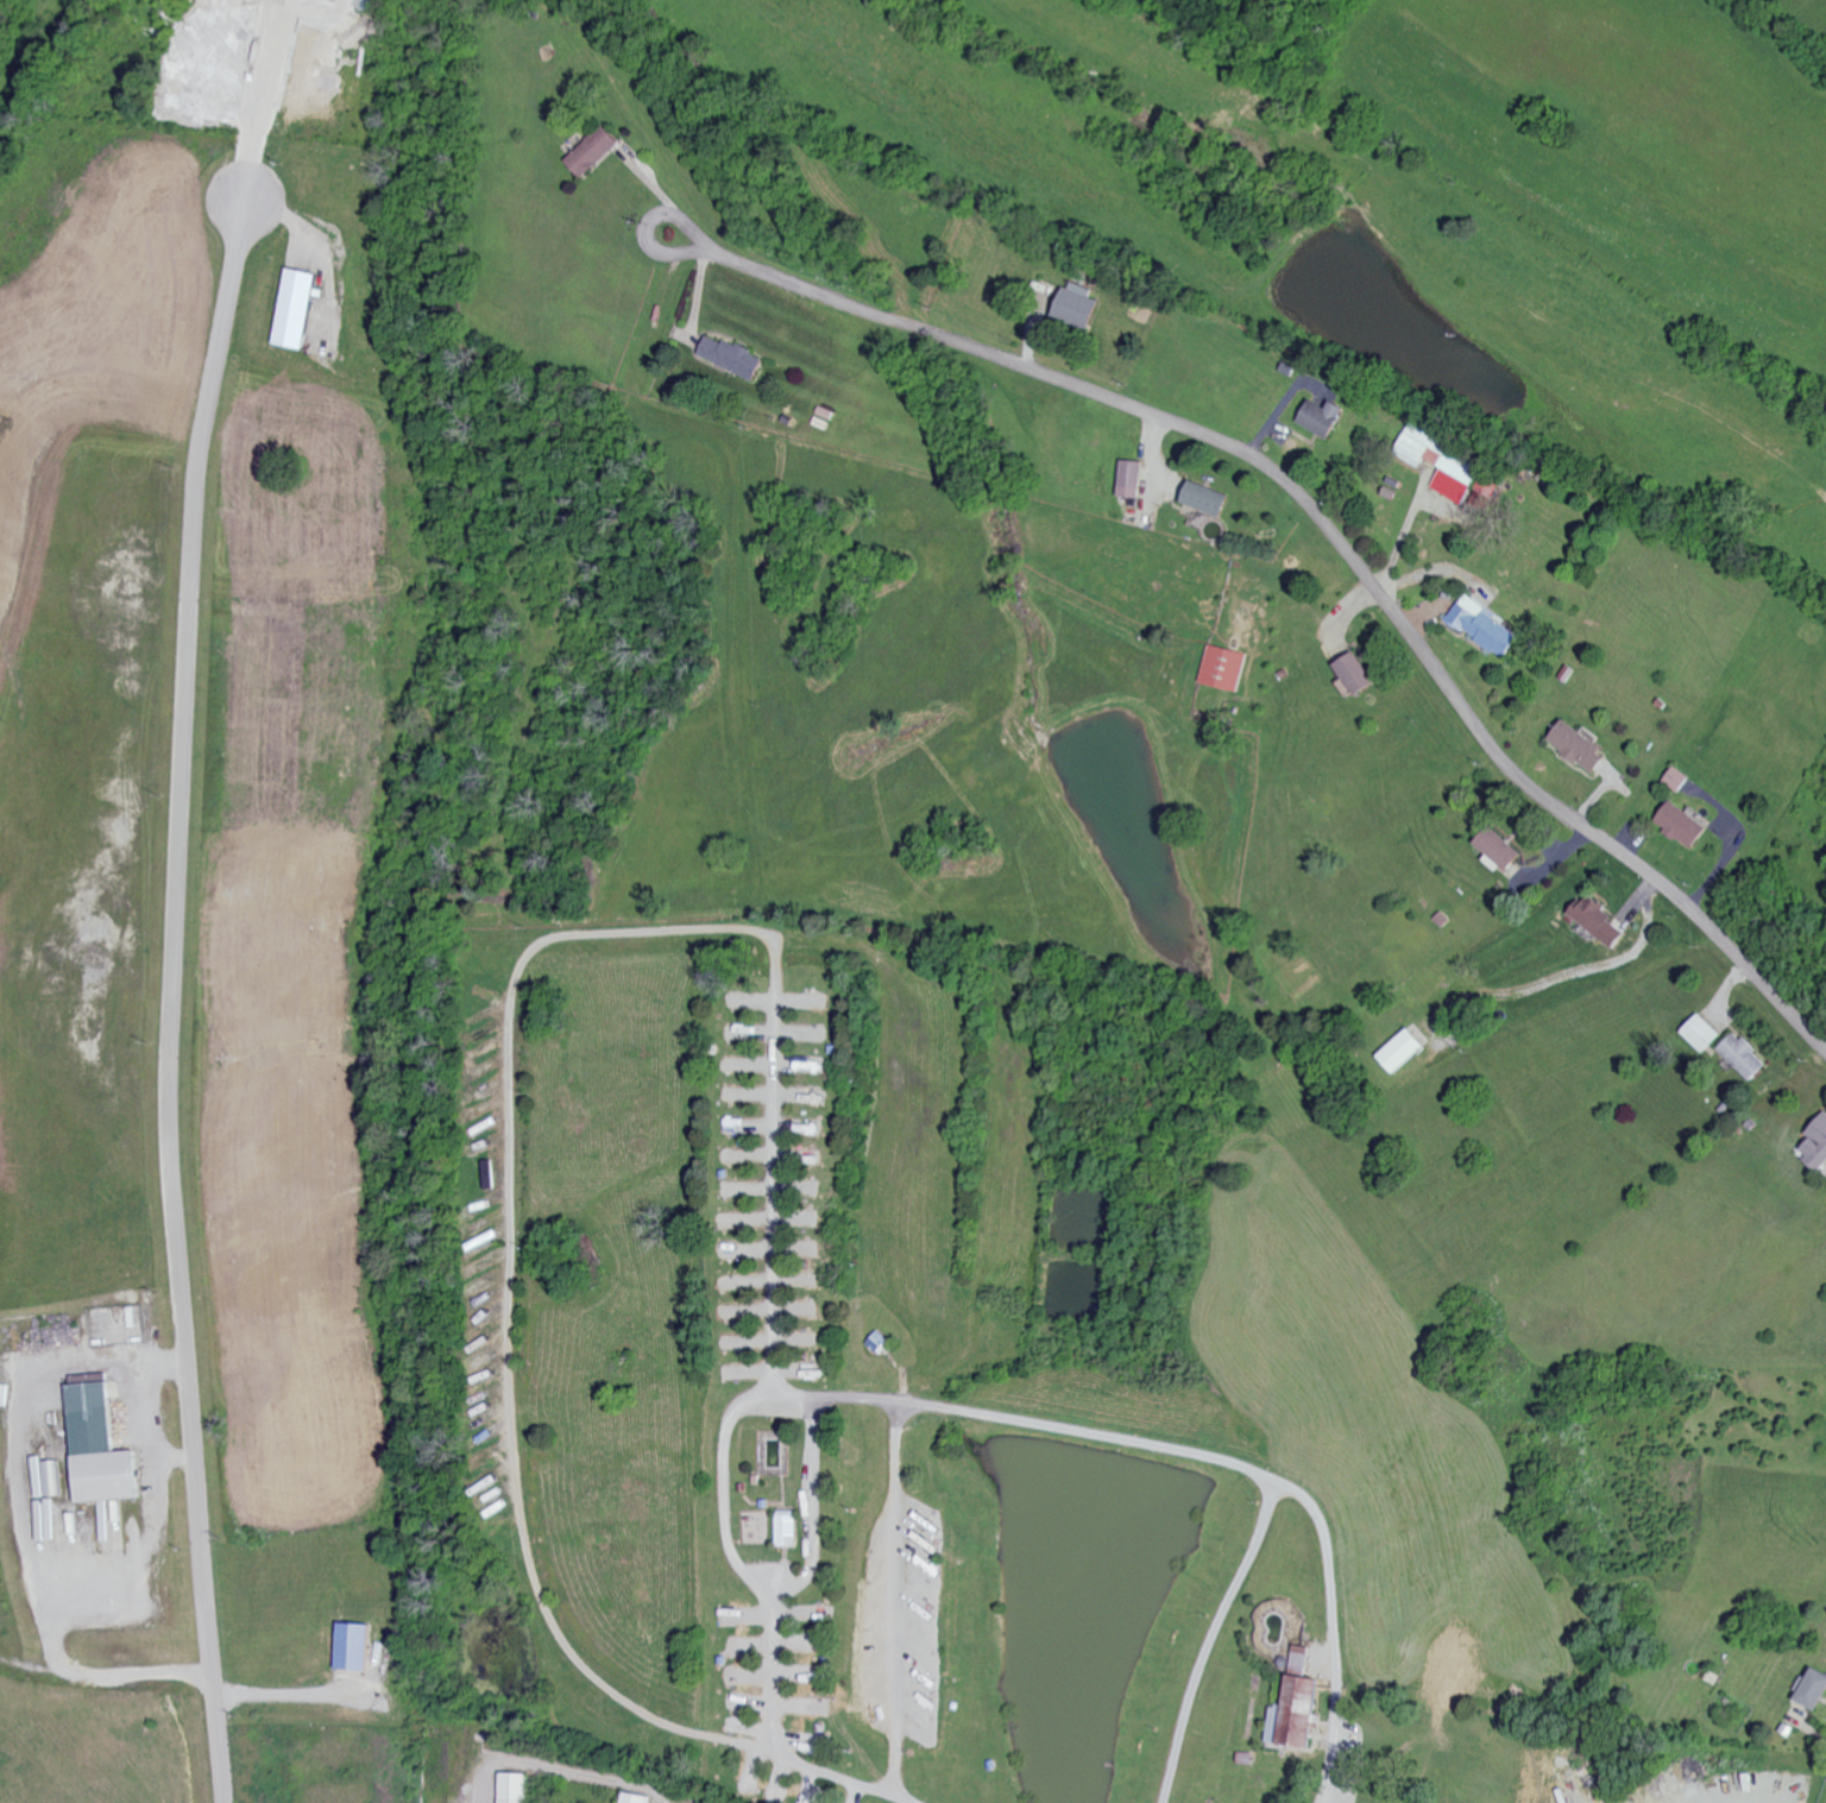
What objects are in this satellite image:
road: (266, 96)
building: (598, 152)
building: (1081, 307)
building: (300, 310)
building: (735, 358)
building: (1326, 420)
building: (1440, 455)
building: (1134, 480)
building: (1485, 491)
building: (1209, 500)
road: (1326, 527)
building: (1486, 628)
building: (1224, 669)
building: (1358, 677)
building: (1576, 744)
building: (1503, 850)
building: (1586, 914)
road: (762, 932)
road: (170, 997)
building: (1721, 1047)
building: (1404, 1051)
building: (1816, 1147)
building: (103, 1449)
road: (177, 1456)
building: (55, 1479)
road: (816, 1507)
building: (791, 1528)
road: (753, 1577)
road: (124, 1589)
road: (899, 1600)
road: (1213, 1638)
building: (358, 1647)
building: (1816, 1691)
building: (1299, 1710)
road: (560, 1769)
building: (514, 1788)
building: (635, 1798)

